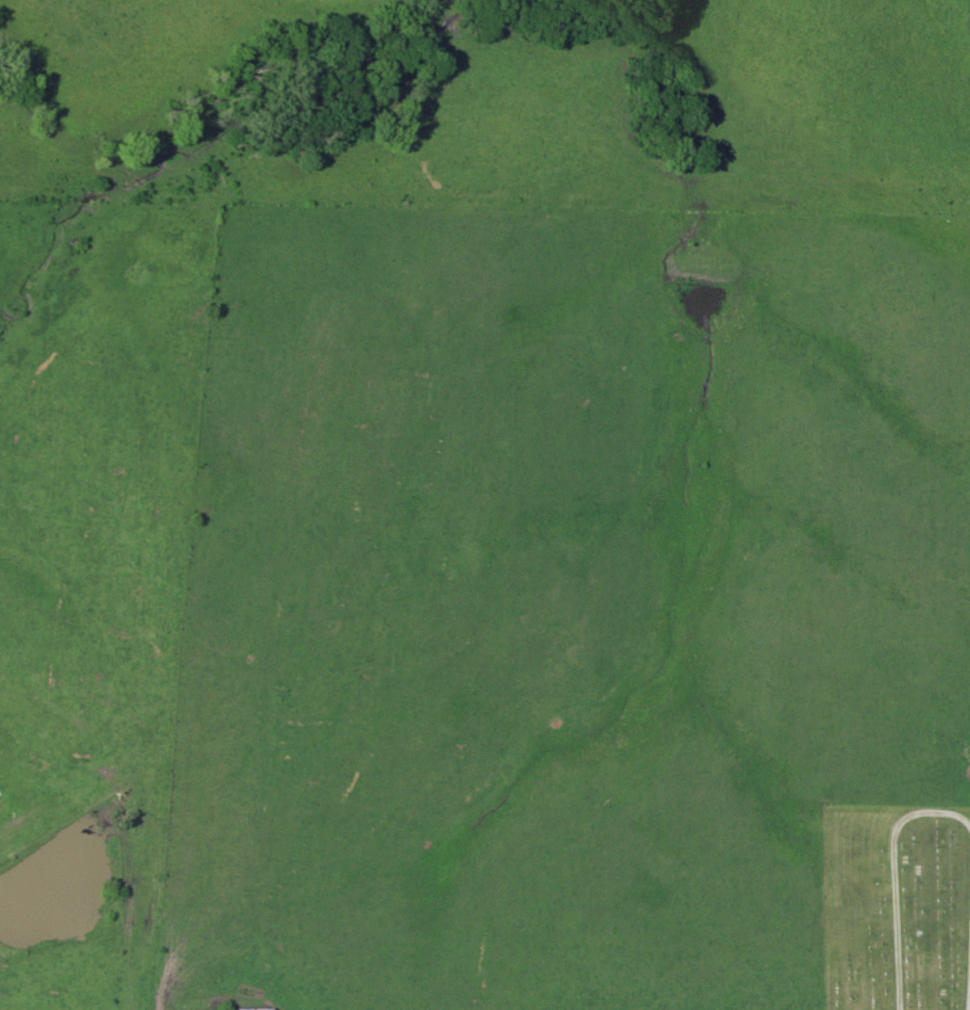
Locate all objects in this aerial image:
road: (894, 875)
park: (895, 907)
road: (968, 980)

